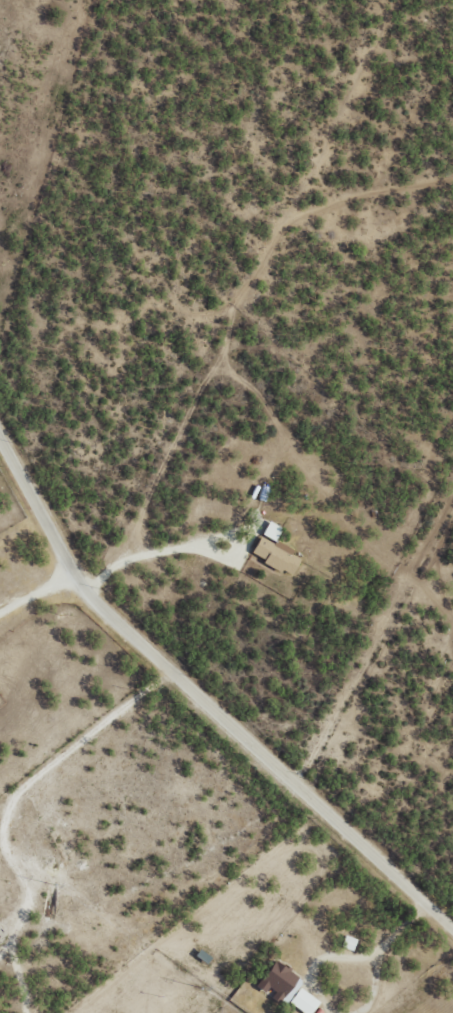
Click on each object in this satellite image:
building: (272, 531)
building: (276, 555)
road: (190, 719)
building: (281, 982)
building: (305, 1001)

